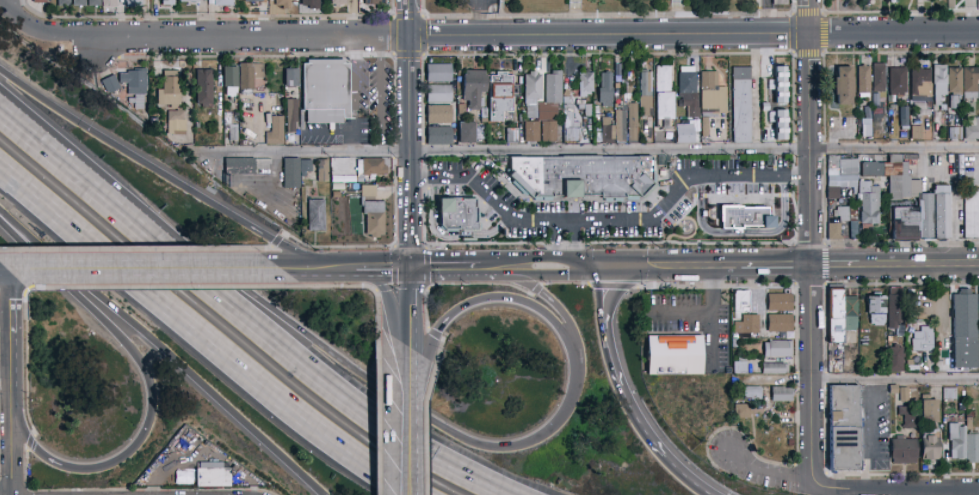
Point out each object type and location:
building: (39, 1)
building: (190, 1)
building: (221, 2)
building: (255, 2)
building: (374, 2)
building: (777, 2)
building: (64, 3)
building: (79, 3)
building: (94, 3)
building: (113, 3)
building: (134, 3)
building: (167, 3)
building: (338, 3)
building: (283, 4)
building: (311, 4)
parking lot: (481, 4)
road: (11, 5)
road: (6, 6)
road: (393, 8)
road: (605, 15)
road: (479, 17)
road: (491, 35)
road: (823, 52)
road: (511, 54)
road: (396, 55)
building: (589, 62)
building: (618, 72)
building: (439, 74)
building: (249, 76)
building: (291, 78)
building: (774, 78)
building: (879, 78)
building: (230, 80)
building: (954, 80)
building: (863, 81)
building: (897, 82)
building: (970, 82)
building: (586, 83)
building: (110, 84)
road: (355, 84)
building: (939, 84)
building: (844, 85)
building: (921, 85)
building: (136, 86)
building: (204, 87)
building: (473, 88)
building: (629, 88)
building: (169, 90)
building: (606, 90)
building: (326, 91)
building: (689, 91)
building: (978, 92)
building: (288, 93)
road: (380, 93)
building: (646, 93)
building: (439, 94)
building: (532, 94)
building: (664, 95)
building: (501, 96)
building: (712, 96)
building: (876, 99)
building: (567, 100)
building: (581, 103)
building: (954, 103)
building: (742, 105)
building: (233, 107)
building: (550, 107)
building: (890, 107)
building: (923, 108)
building: (461, 109)
building: (585, 109)
building: (943, 109)
building: (896, 110)
building: (484, 113)
building: (439, 115)
building: (904, 118)
building: (891, 120)
building: (292, 121)
building: (484, 121)
building: (775, 121)
building: (176, 122)
building: (633, 123)
building: (917, 123)
road: (260, 125)
building: (570, 125)
building: (620, 126)
building: (705, 127)
building: (608, 128)
building: (866, 128)
building: (971, 128)
building: (276, 131)
building: (697, 131)
building: (232, 132)
road: (329, 132)
building: (532, 132)
building: (685, 132)
building: (471, 133)
building: (917, 133)
road: (409, 134)
building: (955, 134)
building: (512, 135)
building: (439, 136)
building: (178, 139)
road: (355, 141)
road: (591, 147)
road: (396, 151)
building: (909, 157)
building: (501, 161)
building: (663, 161)
building: (239, 167)
building: (305, 167)
building: (372, 167)
building: (841, 167)
building: (871, 169)
road: (158, 170)
building: (323, 170)
building: (292, 174)
building: (583, 177)
building: (900, 180)
building: (831, 181)
building: (354, 190)
building: (368, 191)
building: (833, 193)
road: (954, 194)
building: (869, 203)
building: (941, 212)
building: (846, 213)
building: (458, 214)
building: (925, 215)
building: (971, 215)
building: (316, 216)
building: (374, 218)
road: (611, 218)
building: (743, 218)
building: (904, 223)
building: (866, 229)
building: (834, 231)
road: (742, 234)
road: (447, 237)
road: (566, 244)
road: (809, 246)
road: (428, 258)
road: (795, 266)
road: (531, 268)
road: (589, 268)
road: (344, 269)
traffic signals: (410, 269)
road: (453, 269)
road: (150, 270)
road: (11, 271)
road: (459, 284)
road: (565, 284)
road: (715, 286)
road: (613, 287)
road: (537, 290)
road: (555, 301)
road: (409, 302)
building: (741, 303)
building: (780, 303)
building: (876, 309)
road: (680, 313)
building: (896, 313)
road: (712, 314)
road: (245, 316)
building: (835, 316)
building: (964, 316)
building: (850, 317)
road: (942, 320)
building: (747, 325)
building: (780, 325)
road: (9, 329)
road: (436, 335)
road: (204, 338)
building: (923, 340)
building: (749, 349)
building: (778, 349)
road: (162, 351)
building: (674, 353)
building: (835, 358)
building: (896, 359)
building: (913, 361)
building: (931, 363)
building: (740, 366)
building: (775, 369)
road: (860, 379)
road: (417, 381)
road: (5, 387)
building: (893, 390)
road: (154, 393)
building: (753, 393)
road: (626, 394)
building: (781, 394)
building: (904, 395)
building: (949, 398)
building: (961, 407)
building: (758, 410)
building: (742, 411)
building: (929, 413)
road: (408, 415)
building: (908, 417)
building: (969, 419)
road: (436, 423)
building: (845, 428)
building: (957, 440)
road: (10, 441)
building: (930, 445)
building: (972, 448)
building: (903, 450)
building: (213, 475)
road: (850, 489)

